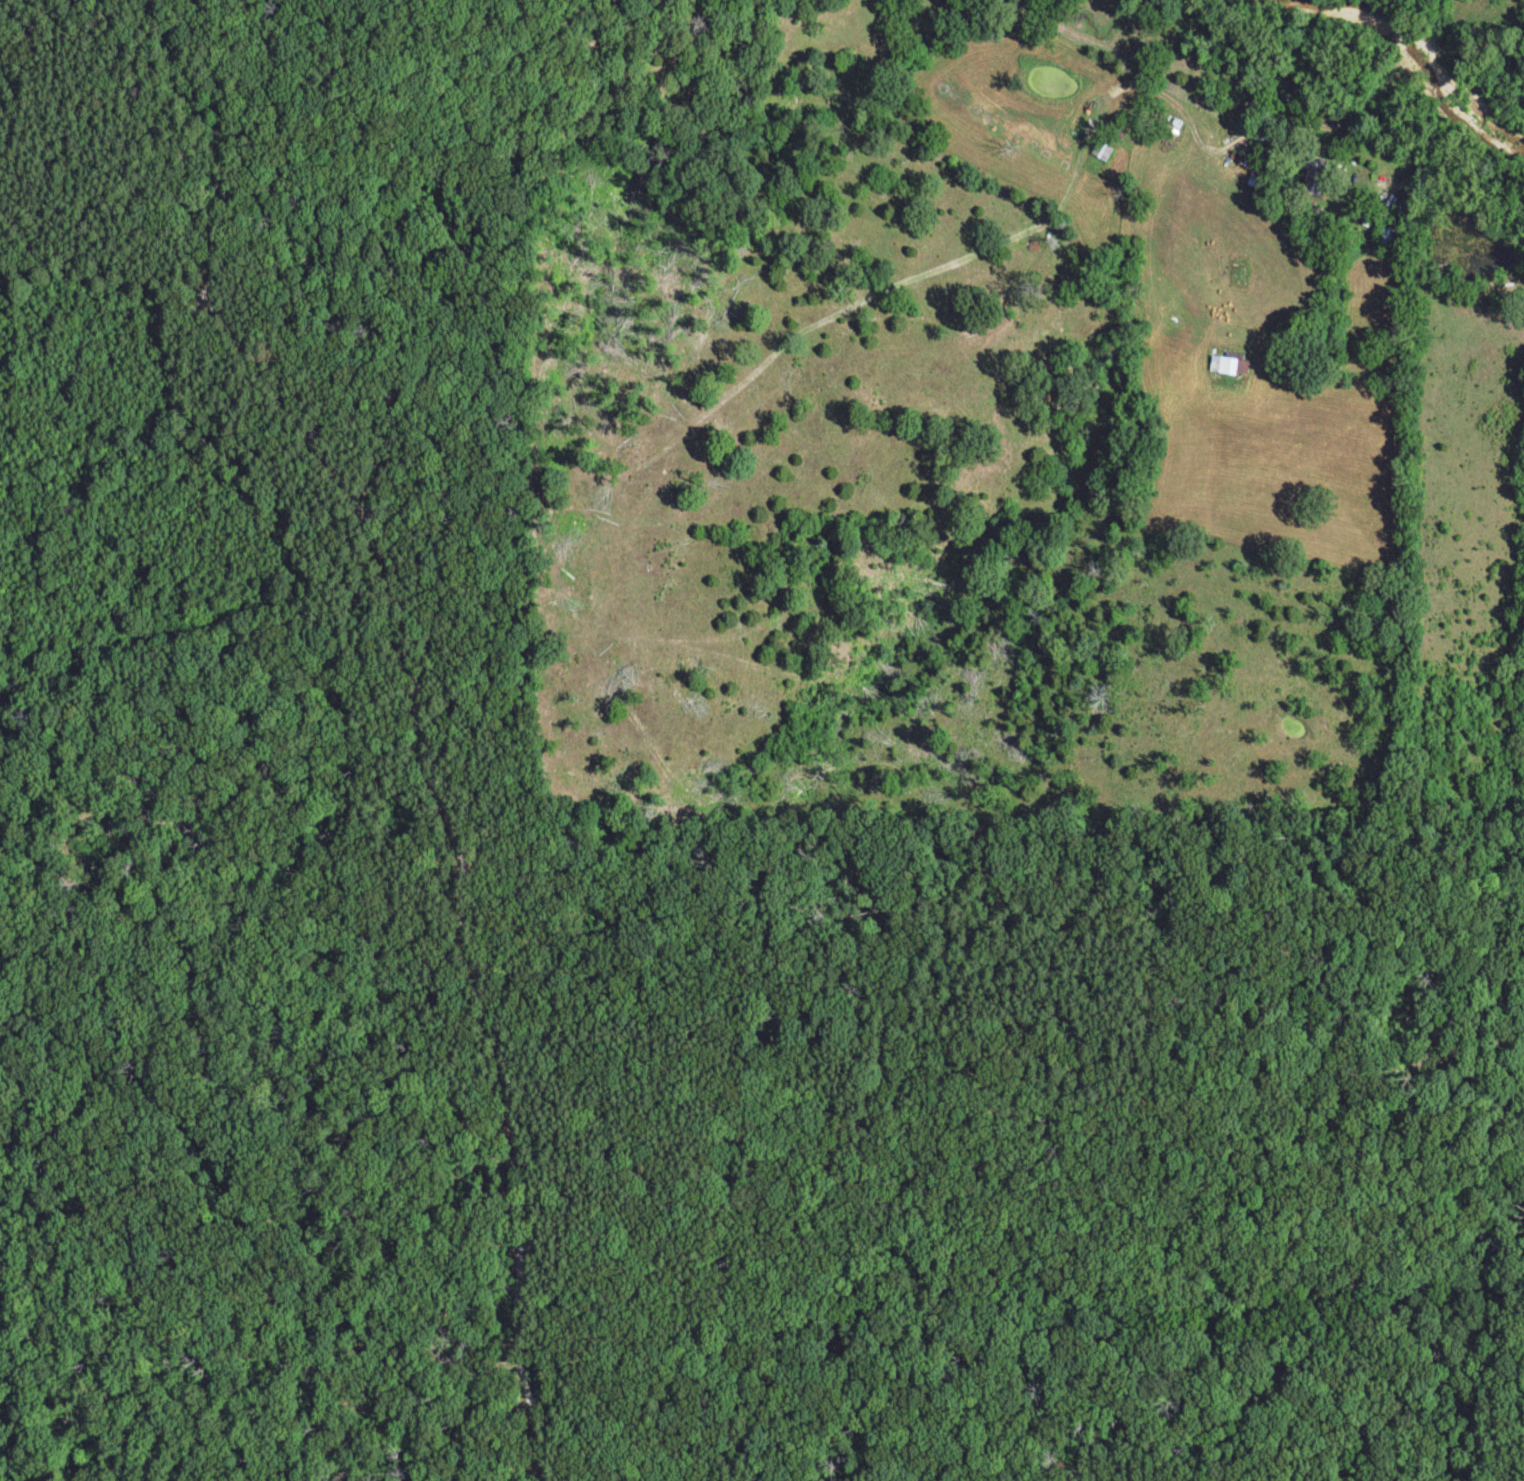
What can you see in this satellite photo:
road: (1384, 161)
road: (264, 421)
road: (511, 1140)

